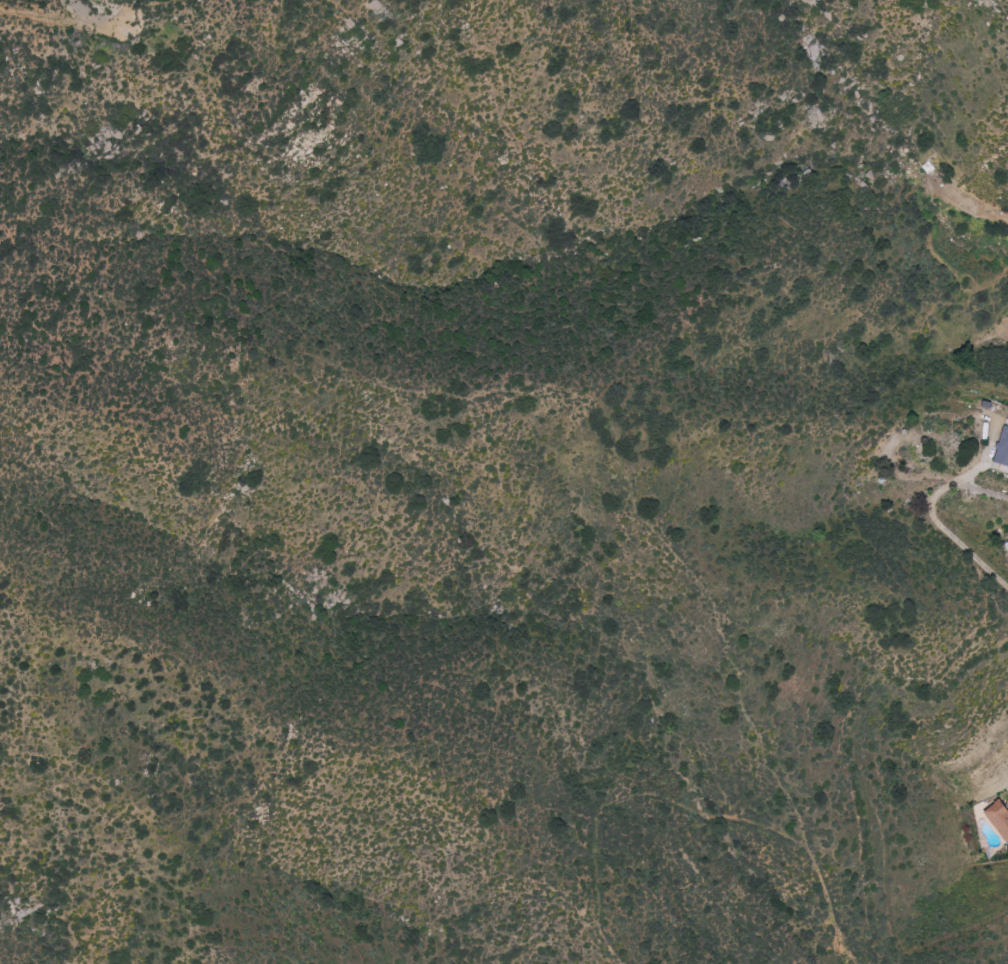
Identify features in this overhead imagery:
building: (1004, 447)
road: (978, 488)
road: (947, 532)
building: (1000, 818)

